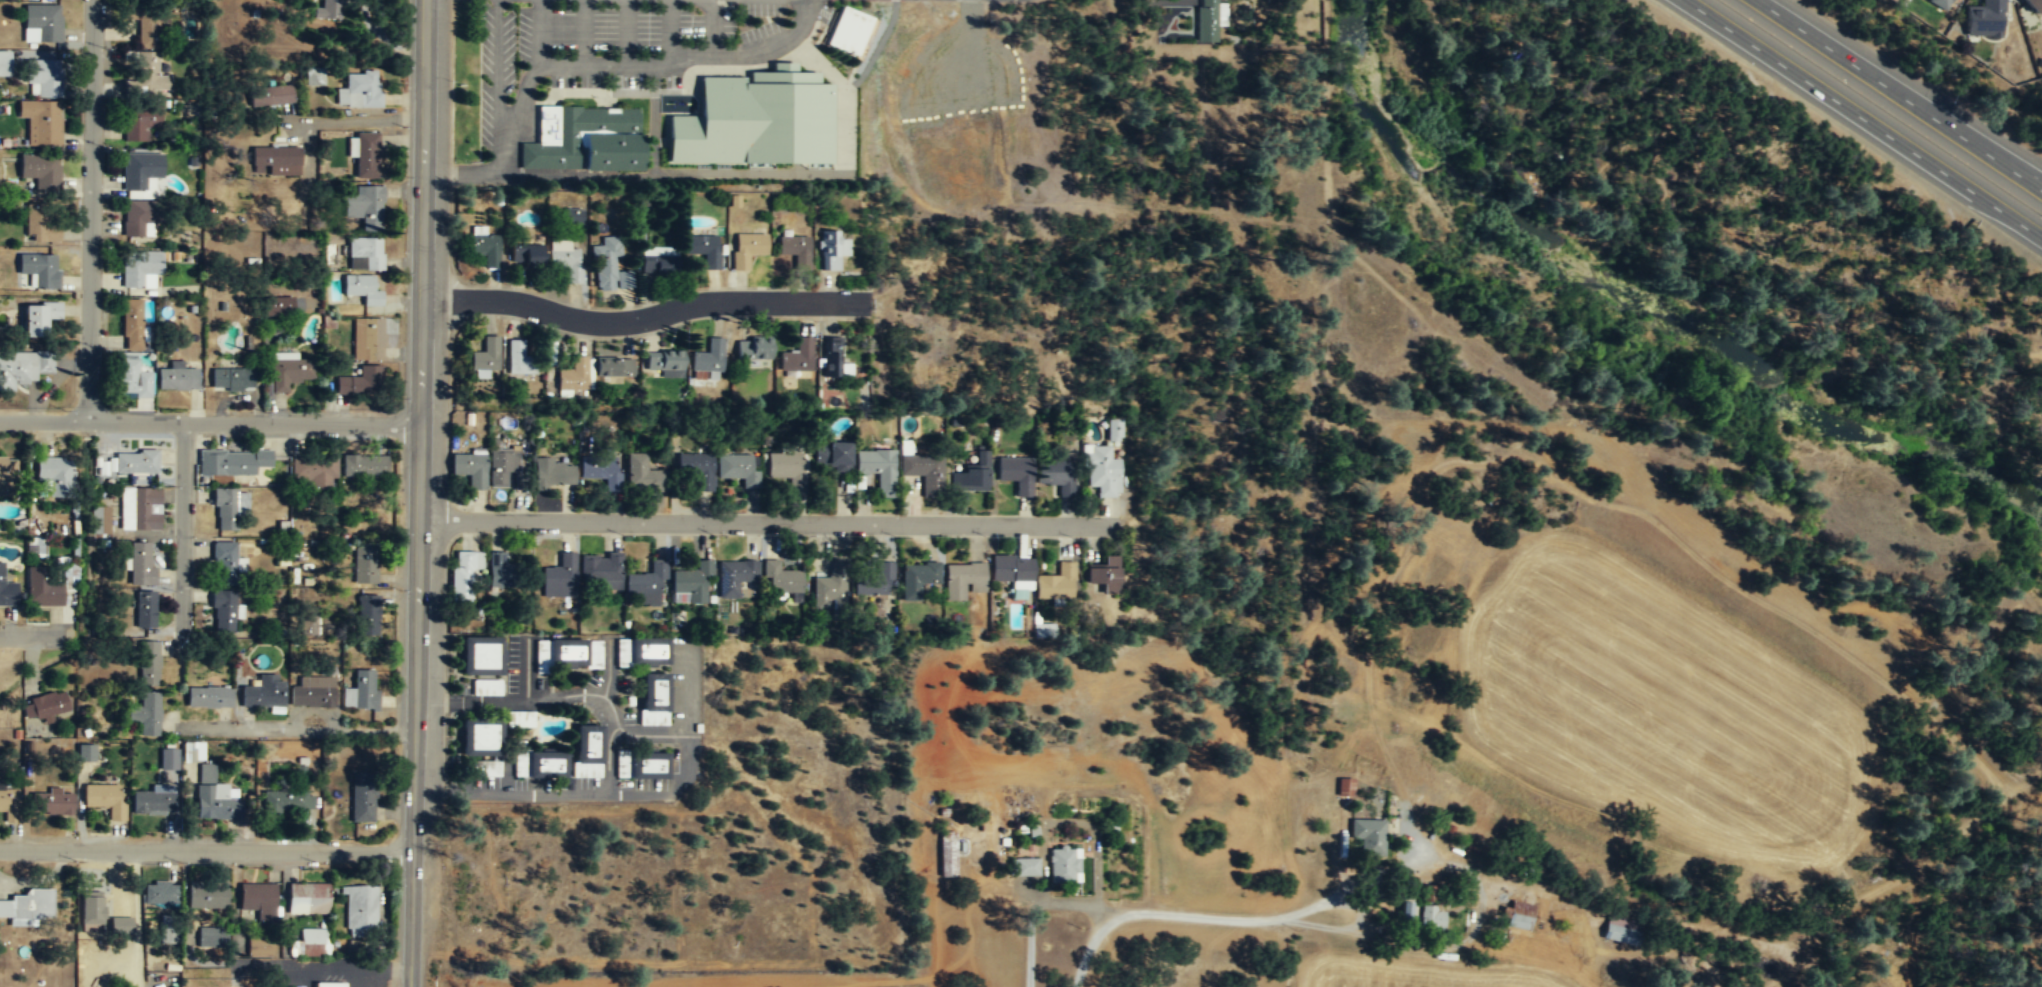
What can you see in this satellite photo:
building: (1939, 3)
building: (2033, 6)
building: (332, 10)
building: (1984, 17)
building: (1206, 21)
building: (44, 22)
building: (145, 22)
road: (713, 26)
road: (671, 29)
road: (584, 32)
building: (849, 32)
road: (755, 48)
building: (6, 63)
road: (535, 64)
road: (605, 65)
building: (153, 72)
building: (314, 78)
building: (44, 79)
street lamp: (451, 80)
building: (130, 87)
building: (359, 91)
road: (1899, 94)
building: (271, 96)
road: (354, 119)
road: (1862, 119)
building: (756, 120)
building: (42, 121)
building: (141, 121)
building: (584, 140)
street lamp: (103, 147)
building: (365, 154)
building: (272, 160)
building: (142, 170)
building: (40, 172)
building: (365, 208)
road: (91, 211)
building: (140, 216)
building: (41, 226)
building: (484, 246)
building: (705, 250)
building: (747, 250)
building: (795, 250)
building: (831, 250)
building: (364, 254)
building: (526, 254)
building: (565, 260)
building: (659, 262)
building: (140, 265)
building: (41, 268)
building: (610, 269)
building: (363, 289)
river: (1644, 304)
building: (281, 306)
building: (40, 316)
road: (640, 317)
street lamp: (814, 320)
building: (133, 322)
building: (368, 338)
building: (753, 348)
building: (485, 356)
building: (833, 357)
building: (797, 358)
building: (518, 359)
building: (707, 361)
building: (665, 362)
building: (23, 366)
building: (613, 366)
building: (289, 373)
building: (575, 375)
building: (134, 377)
building: (176, 377)
building: (232, 379)
building: (360, 382)
street lamp: (67, 408)
street lamp: (265, 410)
road: (209, 424)
building: (1115, 430)
building: (831, 455)
building: (135, 461)
building: (223, 462)
building: (363, 465)
building: (784, 466)
building: (313, 467)
building: (503, 467)
building: (598, 469)
building: (736, 469)
building: (470, 470)
building: (694, 470)
building: (877, 470)
building: (1102, 471)
building: (923, 473)
building: (55, 474)
building: (555, 474)
building: (971, 474)
building: (644, 475)
building: (1015, 475)
building: (1057, 477)
building: (520, 481)
building: (2, 483)
road: (419, 493)
building: (223, 507)
building: (138, 508)
building: (99, 519)
road: (767, 523)
road: (182, 526)
street lamp: (403, 532)
street lamp: (715, 535)
street lamp: (488, 536)
street lamp: (989, 537)
building: (32, 546)
building: (363, 562)
building: (222, 563)
building: (139, 564)
building: (501, 570)
building: (1011, 570)
building: (601, 571)
building: (464, 572)
building: (1103, 575)
building: (733, 577)
building: (963, 578)
building: (558, 579)
building: (918, 579)
building: (874, 581)
building: (784, 582)
building: (1056, 584)
building: (645, 585)
building: (691, 585)
building: (41, 588)
building: (829, 588)
building: (6, 590)
building: (143, 608)
building: (222, 609)
building: (365, 615)
building: (307, 620)
building: (1044, 630)
road: (26, 634)
building: (642, 652)
building: (567, 654)
building: (481, 656)
building: (146, 661)
building: (488, 687)
building: (363, 690)
building: (312, 691)
building: (262, 692)
building: (207, 697)
road: (555, 697)
building: (654, 699)
building: (44, 706)
building: (144, 713)
building: (523, 719)
road: (299, 730)
building: (480, 737)
building: (587, 750)
building: (85, 752)
building: (189, 752)
building: (167, 758)
building: (539, 764)
building: (641, 764)
building: (487, 768)
building: (204, 773)
building: (1346, 786)
road: (605, 791)
building: (361, 796)
building: (103, 799)
building: (149, 800)
building: (284, 800)
building: (50, 802)
building: (7, 804)
building: (214, 804)
building: (1367, 836)
road: (205, 850)
building: (947, 854)
building: (1063, 863)
building: (1025, 866)
street lamp: (397, 884)
building: (205, 893)
building: (160, 894)
building: (255, 896)
building: (306, 897)
road: (1070, 904)
building: (28, 907)
building: (89, 907)
building: (358, 908)
building: (1407, 908)
road: (137, 912)
building: (1515, 914)
building: (1431, 916)
road: (1101, 917)
road: (1279, 917)
building: (119, 924)
building: (166, 928)
building: (1620, 930)
building: (211, 936)
building: (310, 942)
building: (257, 946)
road: (324, 968)
building: (328, 984)
building: (294, 986)

